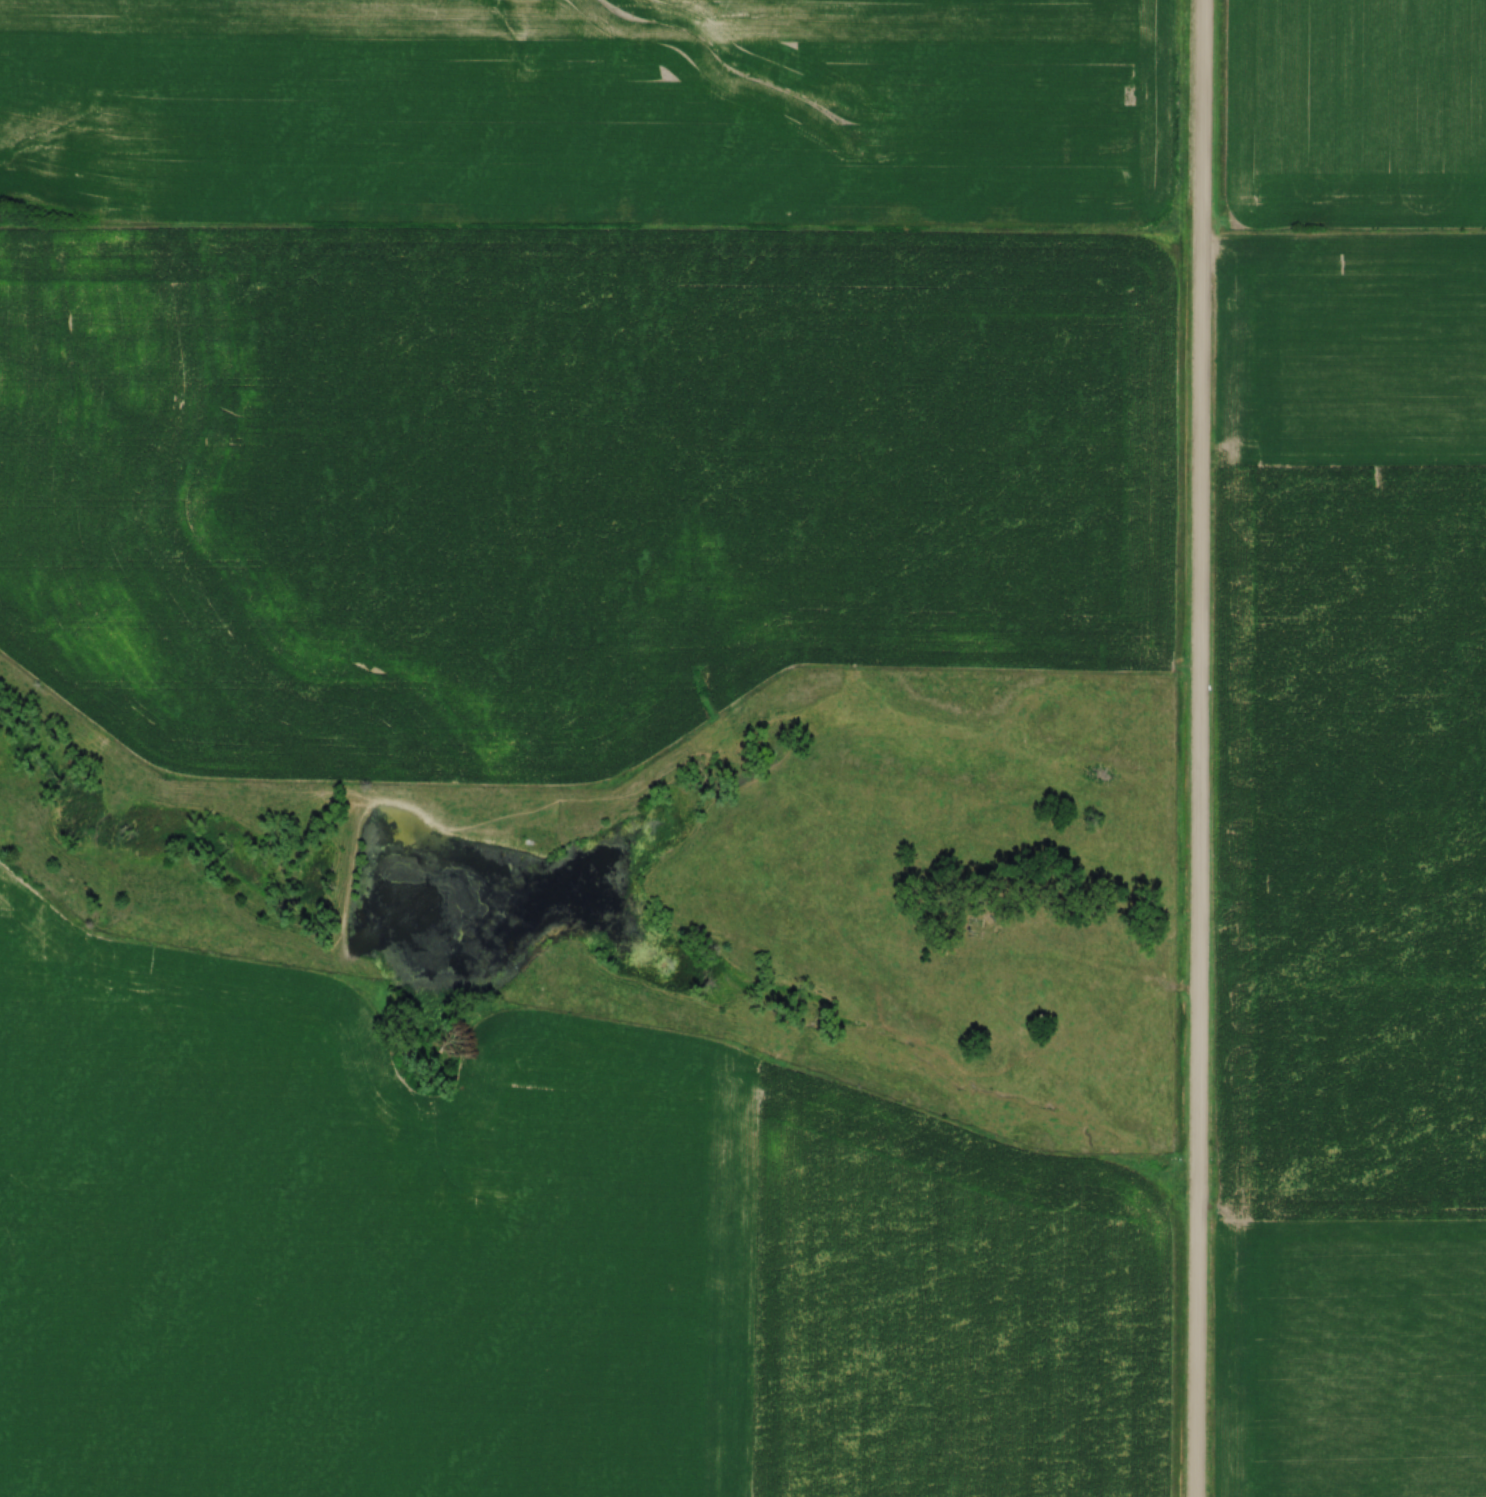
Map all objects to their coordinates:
road: (1209, 748)

